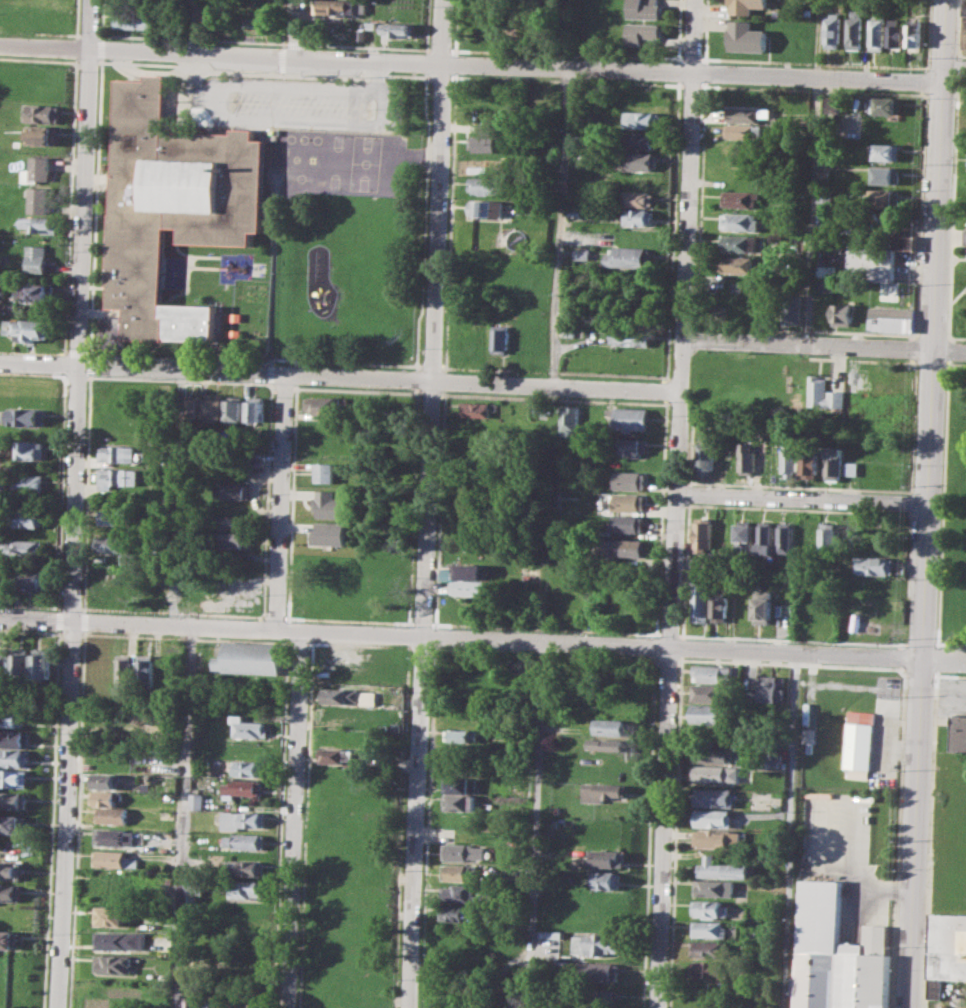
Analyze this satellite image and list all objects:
building: (746, 5)
building: (338, 7)
building: (644, 9)
building: (138, 20)
building: (964, 26)
road: (299, 28)
building: (399, 29)
building: (832, 30)
building: (854, 30)
building: (642, 33)
building: (877, 33)
building: (896, 34)
building: (914, 35)
building: (744, 36)
road: (816, 37)
road: (149, 50)
road: (956, 64)
road: (622, 67)
road: (375, 73)
building: (831, 102)
parking lot: (300, 104)
building: (886, 105)
building: (42, 113)
building: (741, 114)
road: (236, 119)
building: (641, 120)
building: (741, 131)
building: (44, 135)
building: (640, 139)
building: (484, 142)
building: (886, 151)
building: (638, 160)
building: (38, 170)
building: (884, 174)
building: (487, 186)
building: (887, 197)
building: (635, 198)
building: (739, 198)
building: (41, 199)
building: (176, 204)
building: (530, 205)
building: (488, 208)
road: (810, 209)
building: (575, 211)
building: (636, 217)
building: (738, 221)
building: (40, 223)
road: (560, 226)
building: (900, 241)
building: (737, 243)
building: (582, 253)
building: (625, 256)
building: (38, 258)
building: (737, 263)
building: (871, 264)
building: (826, 270)
building: (824, 284)
building: (40, 291)
building: (887, 292)
building: (521, 308)
building: (796, 311)
building: (841, 313)
building: (890, 319)
building: (567, 328)
building: (31, 329)
road: (933, 329)
building: (630, 333)
building: (500, 337)
road: (823, 344)
road: (142, 368)
road: (482, 383)
building: (856, 383)
building: (822, 394)
building: (321, 405)
building: (193, 407)
building: (215, 408)
building: (474, 408)
building: (236, 410)
building: (256, 410)
building: (25, 415)
building: (568, 418)
building: (627, 418)
building: (631, 446)
building: (30, 449)
building: (118, 453)
building: (704, 458)
building: (745, 458)
building: (789, 459)
building: (833, 462)
building: (810, 464)
building: (851, 467)
building: (325, 472)
building: (117, 476)
building: (628, 480)
building: (27, 482)
building: (233, 490)
road: (255, 492)
road: (279, 501)
building: (627, 501)
road: (801, 502)
road: (74, 503)
building: (329, 504)
road: (429, 504)
road: (675, 504)
park: (952, 512)
building: (111, 516)
building: (29, 518)
building: (234, 521)
building: (626, 523)
building: (703, 532)
building: (329, 534)
building: (743, 536)
building: (807, 536)
building: (764, 537)
building: (785, 537)
building: (829, 537)
building: (231, 540)
building: (109, 544)
building: (622, 547)
building: (27, 548)
building: (874, 565)
building: (461, 571)
building: (1, 576)
building: (28, 579)
building: (469, 588)
building: (702, 601)
building: (762, 606)
building: (720, 608)
road: (137, 624)
road: (288, 630)
road: (611, 646)
building: (249, 658)
road: (943, 659)
building: (3, 663)
building: (20, 663)
building: (42, 663)
building: (144, 671)
building: (123, 673)
building: (713, 673)
building: (770, 689)
building: (708, 692)
building: (747, 695)
building: (342, 696)
building: (709, 713)
building: (12, 717)
building: (612, 727)
building: (250, 728)
building: (960, 733)
building: (463, 735)
building: (808, 735)
building: (14, 738)
building: (855, 742)
building: (611, 744)
building: (713, 755)
building: (14, 757)
building: (343, 757)
building: (774, 762)
building: (248, 768)
building: (715, 773)
building: (13, 778)
building: (104, 780)
building: (459, 784)
building: (242, 787)
building: (603, 792)
building: (715, 796)
building: (105, 797)
building: (13, 800)
building: (197, 800)
building: (460, 802)
building: (111, 816)
road: (185, 817)
building: (714, 818)
building: (243, 820)
road: (294, 820)
building: (12, 824)
road: (538, 826)
road: (788, 831)
road: (914, 833)
building: (113, 837)
building: (717, 837)
building: (246, 841)
building: (464, 851)
parking lot: (851, 851)
building: (608, 858)
building: (114, 860)
building: (247, 868)
building: (721, 869)
building: (11, 870)
building: (460, 872)
building: (607, 879)
building: (109, 881)
building: (195, 886)
building: (246, 888)
building: (713, 888)
building: (11, 892)
building: (461, 892)
building: (709, 908)
building: (456, 913)
building: (111, 916)
building: (244, 920)
building: (708, 928)
building: (553, 934)
building: (9, 939)
building: (122, 940)
building: (595, 944)
building: (708, 950)
building: (946, 951)
building: (837, 956)
building: (243, 962)
building: (114, 964)
building: (707, 968)
building: (596, 971)
building: (600, 997)
building: (192, 1002)
building: (237, 1003)
building: (257, 1003)
building: (214, 1004)

